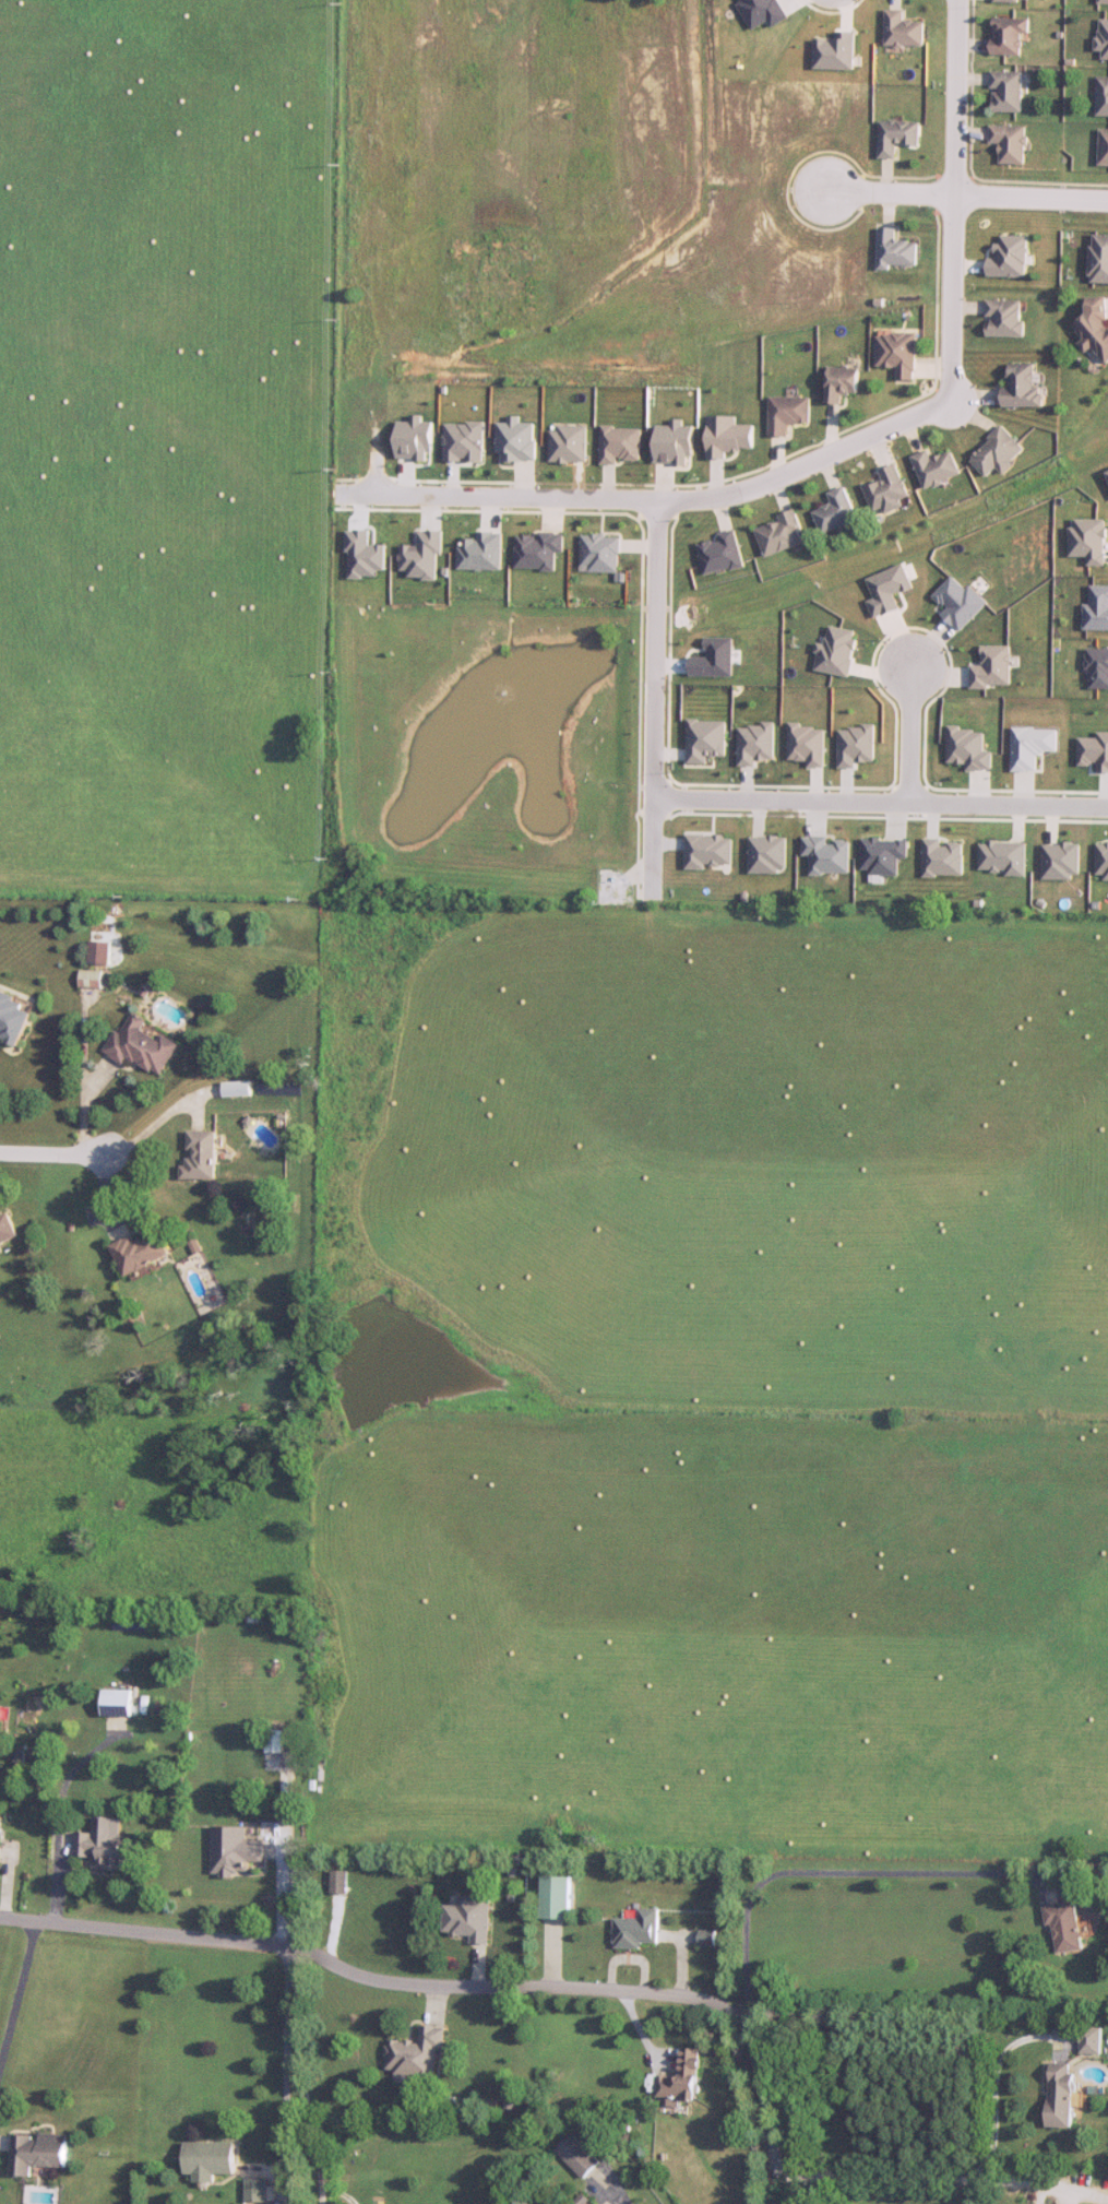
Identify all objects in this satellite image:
building: (1013, 0)
building: (1103, 2)
building: (903, 31)
building: (1009, 36)
building: (1104, 39)
building: (1006, 92)
building: (1103, 96)
building: (896, 137)
building: (1010, 143)
building: (1104, 147)
road: (957, 194)
road: (952, 201)
building: (895, 250)
building: (1010, 258)
building: (1099, 259)
building: (1005, 318)
building: (1096, 327)
building: (897, 355)
building: (842, 383)
building: (1024, 388)
building: (788, 415)
building: (998, 453)
building: (937, 469)
building: (889, 491)
road: (656, 501)
building: (837, 512)
building: (783, 535)
road: (653, 700)
road: (906, 725)
road: (880, 803)
building: (91, 979)
building: (13, 1017)
building: (143, 1045)
road: (126, 1154)
building: (201, 1156)
building: (8, 1230)
building: (143, 1252)
building: (119, 1703)
building: (275, 1742)
building: (0, 1829)
building: (109, 1851)
building: (235, 1851)
road: (844, 1877)
building: (339, 1883)
building: (559, 1898)
building: (469, 1919)
building: (1065, 1928)
building: (638, 1931)
building: (707, 1939)
road: (370, 1984)
road: (20, 2003)
road: (287, 2026)
building: (1091, 2040)
building: (417, 2055)
building: (683, 2079)
road: (994, 2086)
building: (1061, 2095)
road: (764, 2117)
road: (312, 2141)
road: (9, 2152)
building: (39, 2153)
building: (579, 2157)
building: (209, 2160)
road: (922, 2181)
building: (257, 2191)
road: (1067, 2201)

